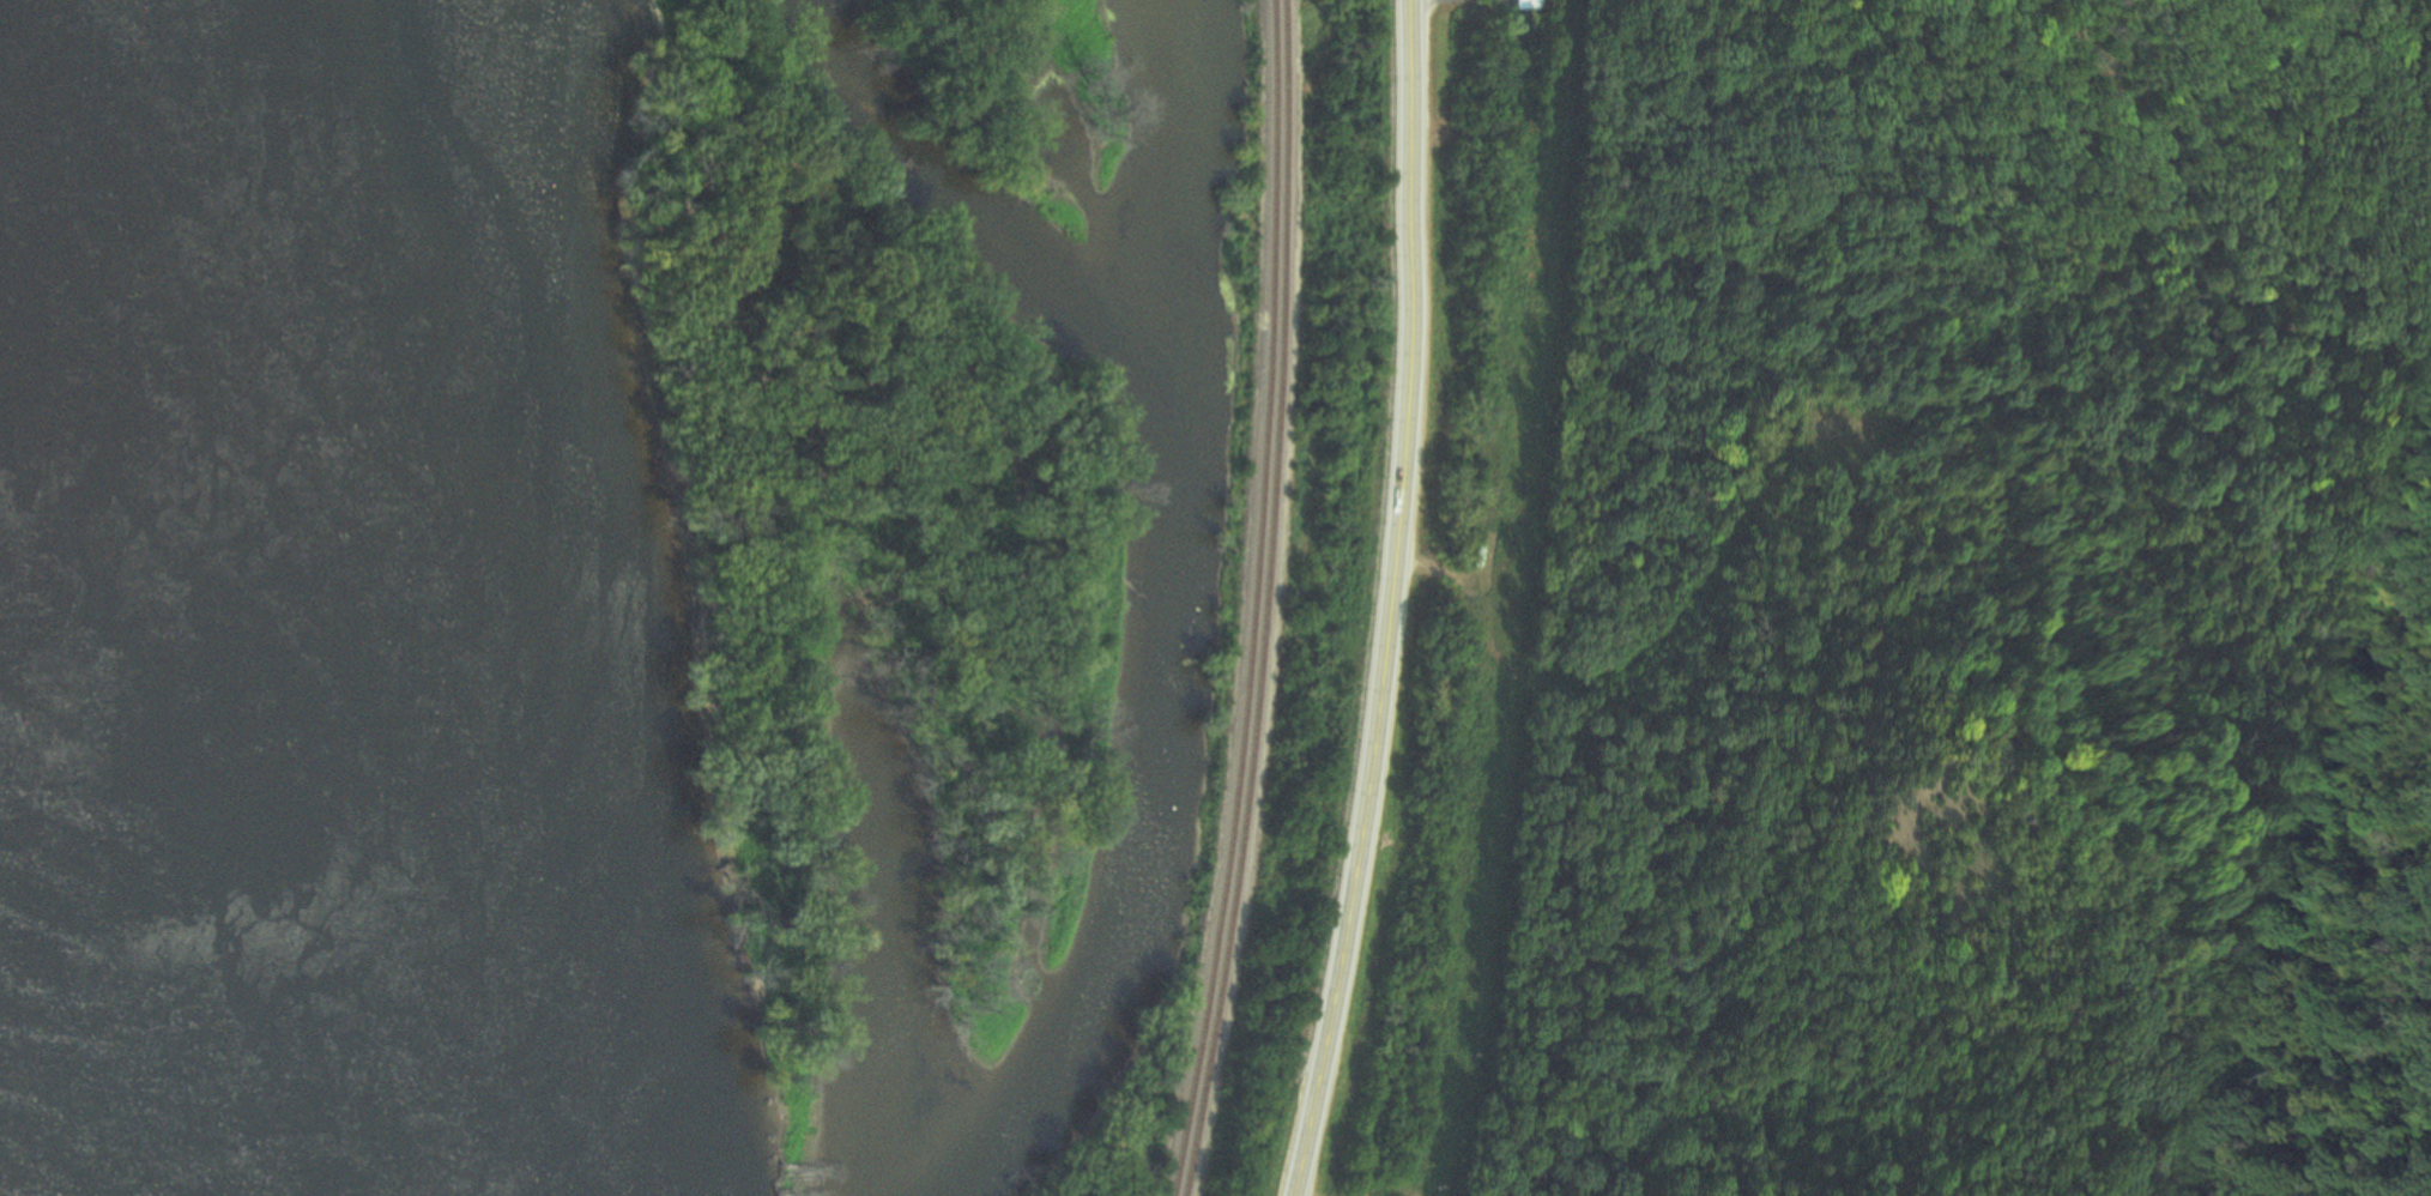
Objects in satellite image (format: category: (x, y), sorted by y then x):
building: (1531, 4)
river: (346, 597)
railway: (1251, 600)
railway: (1263, 600)
road: (1385, 602)

